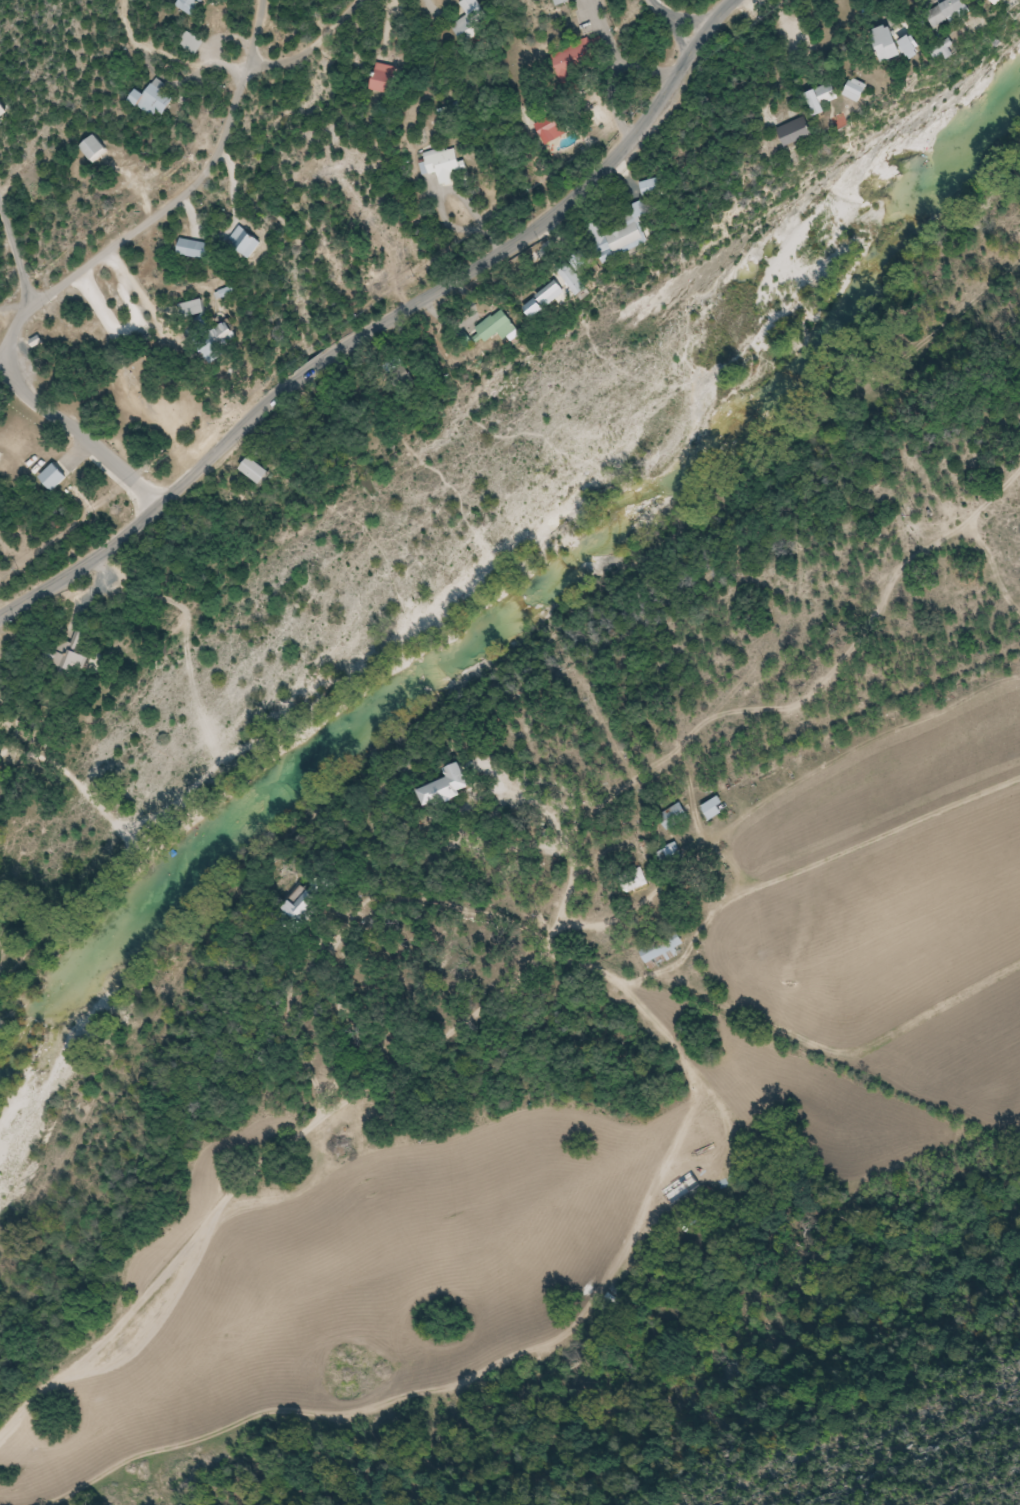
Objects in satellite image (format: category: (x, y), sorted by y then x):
building: (562, 2)
building: (1012, 2)
building: (189, 6)
building: (958, 11)
road: (679, 16)
building: (470, 21)
building: (191, 43)
building: (900, 43)
road: (310, 48)
road: (621, 51)
building: (960, 52)
building: (579, 61)
building: (387, 78)
building: (835, 98)
building: (155, 99)
building: (5, 108)
building: (809, 132)
building: (96, 149)
building: (444, 166)
road: (193, 186)
building: (654, 187)
building: (624, 233)
building: (248, 243)
building: (196, 249)
road: (16, 255)
building: (228, 293)
building: (196, 310)
road: (383, 321)
building: (502, 327)
road: (11, 332)
building: (229, 334)
road: (80, 437)
building: (263, 472)
building: (58, 474)
river: (525, 607)
building: (76, 656)
building: (449, 788)
building: (715, 809)
building: (674, 816)
building: (670, 854)
building: (634, 882)
building: (312, 898)
building: (665, 951)
road: (533, 968)

